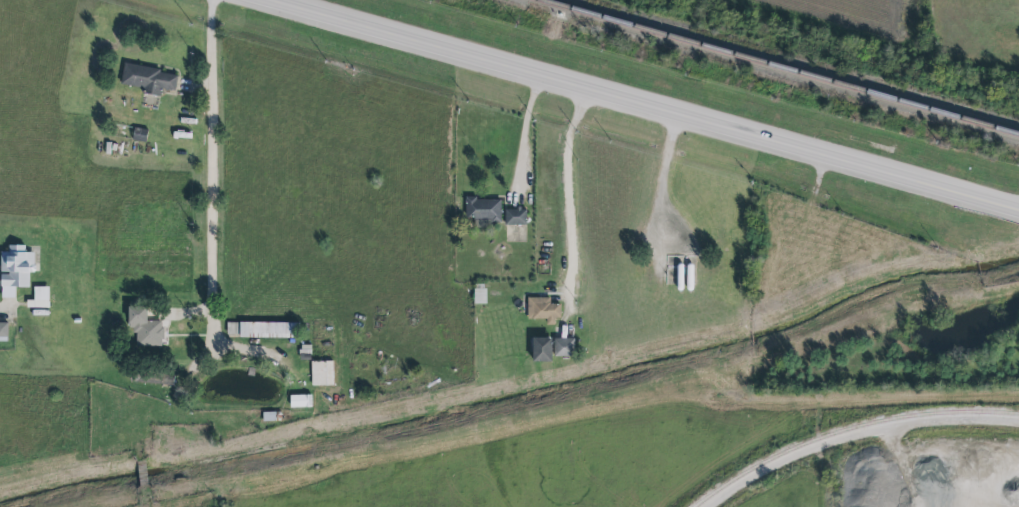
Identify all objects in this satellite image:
railway: (777, 67)
building: (147, 80)
road: (640, 106)
road: (522, 131)
building: (139, 135)
road: (219, 148)
road: (579, 182)
building: (482, 210)
building: (514, 217)
building: (17, 268)
building: (479, 295)
building: (41, 297)
building: (543, 312)
building: (144, 329)
building: (261, 330)
building: (3, 333)
building: (563, 348)
building: (541, 350)
building: (321, 374)
building: (300, 402)
railway: (847, 430)

